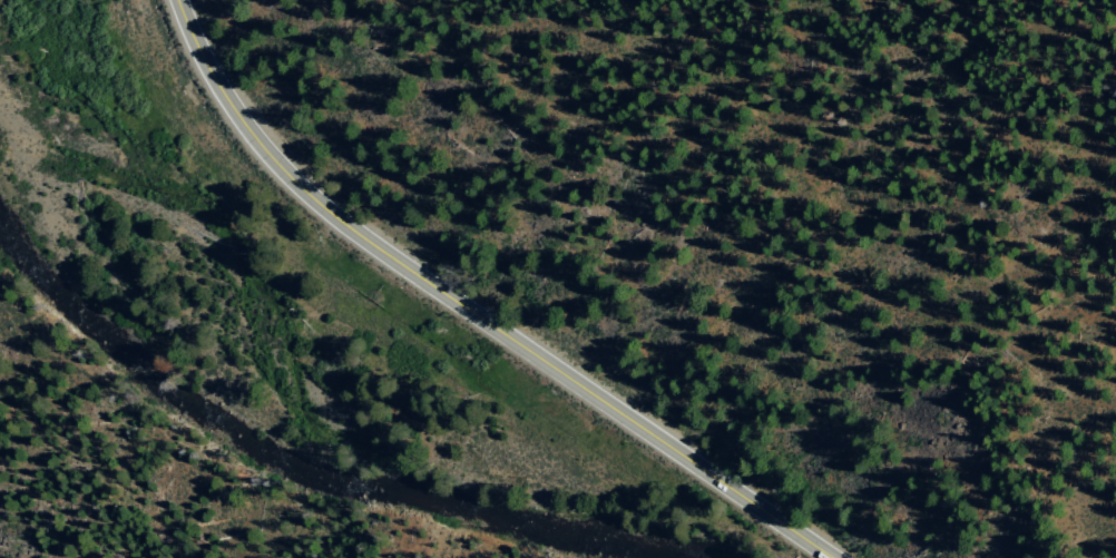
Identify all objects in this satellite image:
road: (473, 311)
river: (304, 479)

